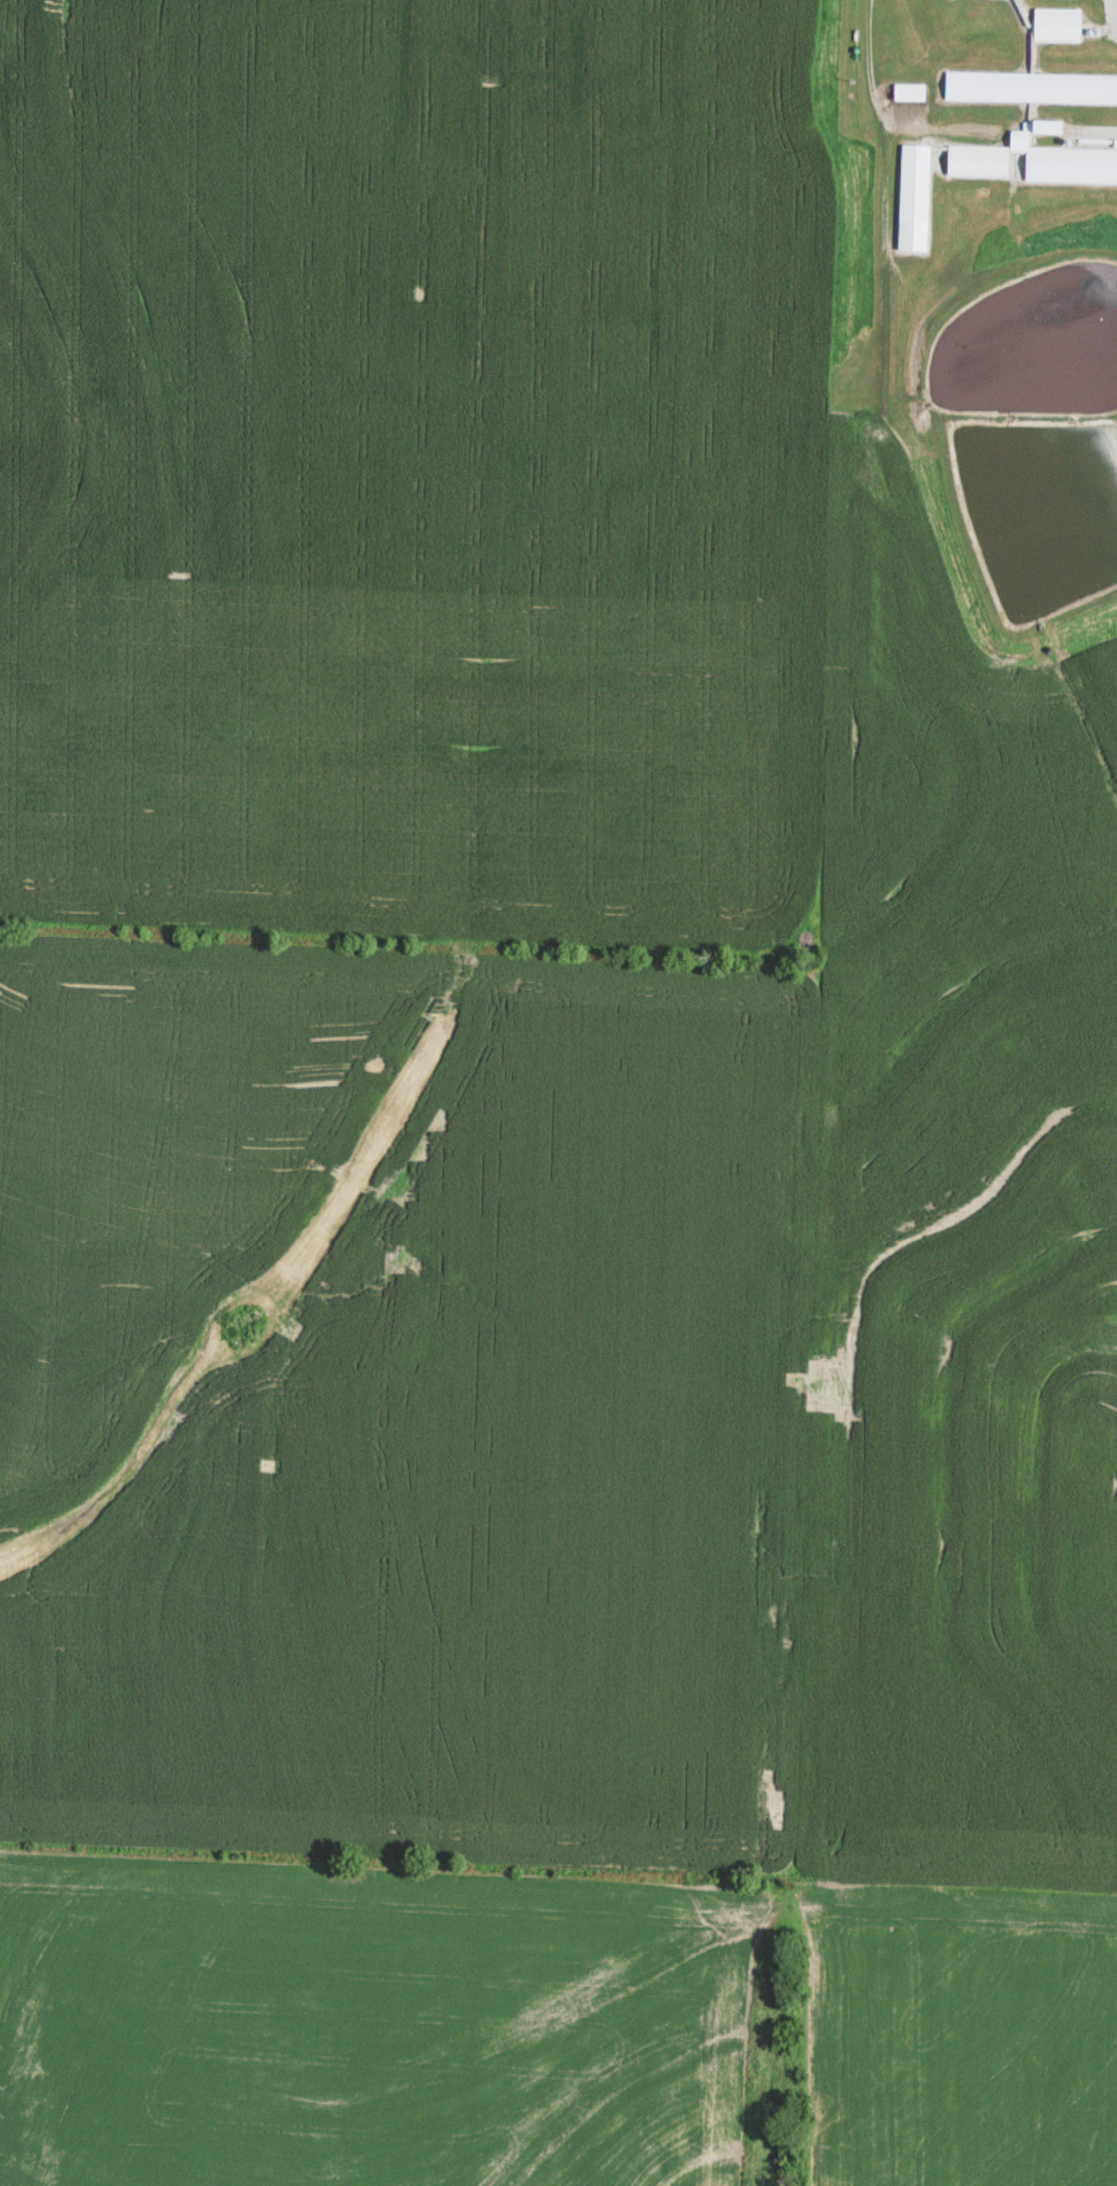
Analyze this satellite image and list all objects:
building: (1034, 55)
building: (1047, 125)
building: (981, 159)
building: (1072, 164)
building: (918, 181)

